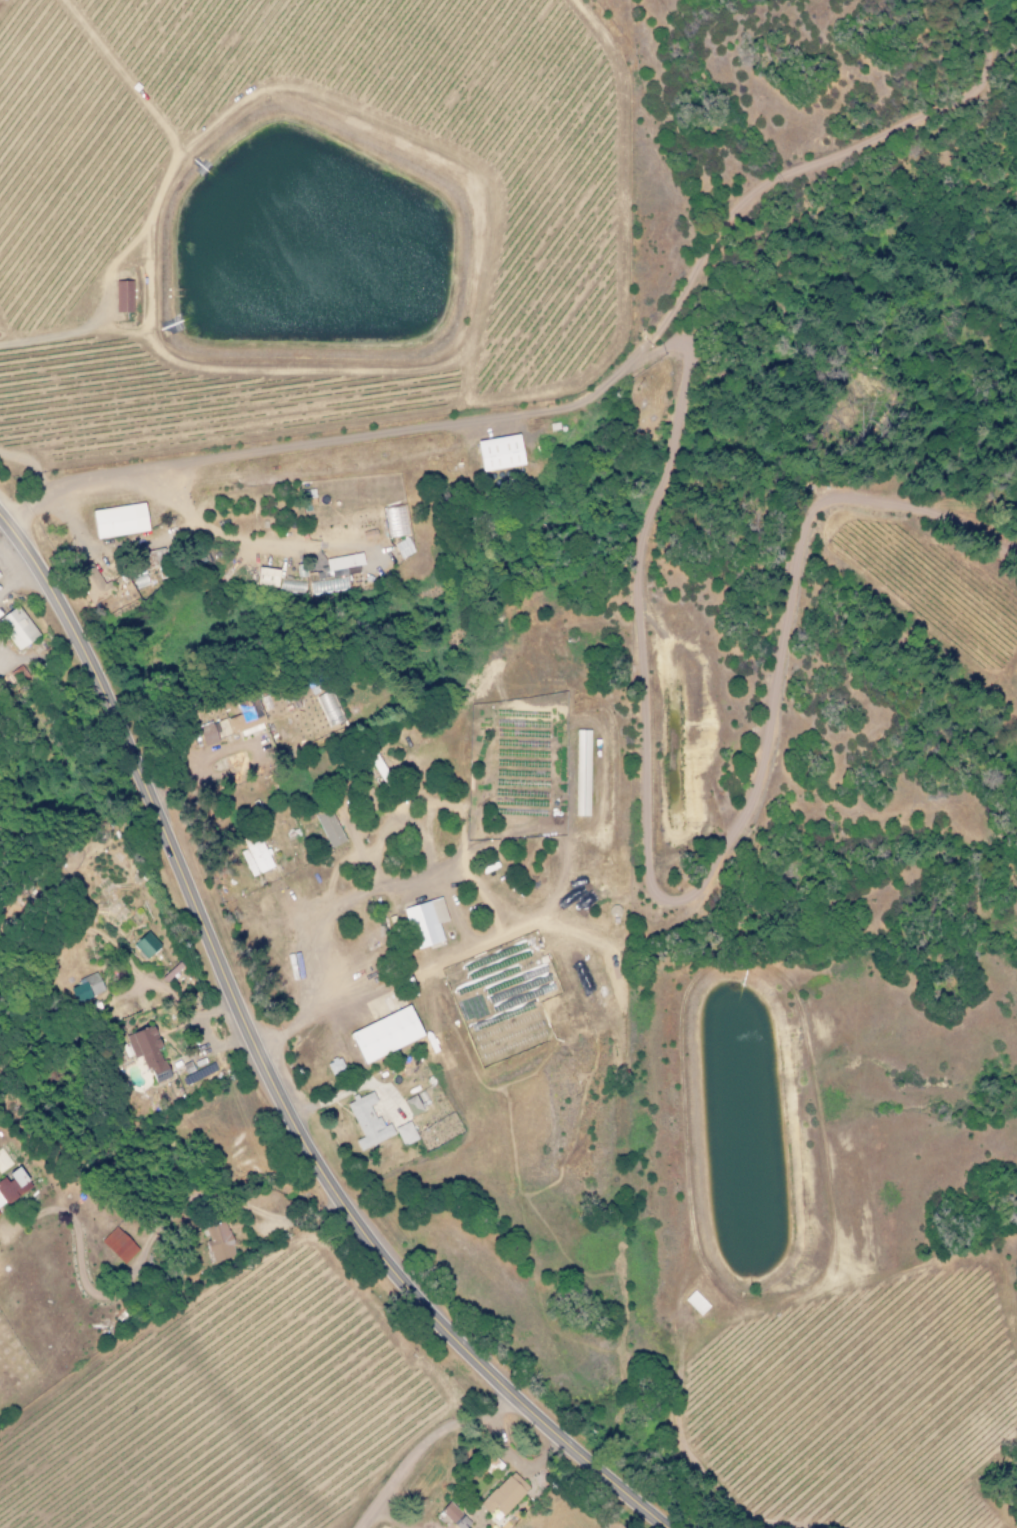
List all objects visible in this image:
road: (773, 180)
building: (121, 297)
road: (360, 431)
building: (498, 454)
building: (117, 521)
building: (403, 548)
building: (333, 572)
building: (266, 576)
building: (92, 583)
building: (15, 628)
building: (246, 717)
building: (206, 733)
building: (581, 773)
building: (329, 828)
building: (255, 856)
road: (697, 908)
building: (424, 922)
building: (145, 944)
building: (85, 988)
building: (384, 1034)
building: (147, 1052)
building: (334, 1065)
road: (267, 1066)
building: (412, 1106)
building: (367, 1122)
building: (405, 1133)
building: (12, 1186)
building: (218, 1242)
building: (118, 1245)
building: (503, 1494)
building: (450, 1513)

